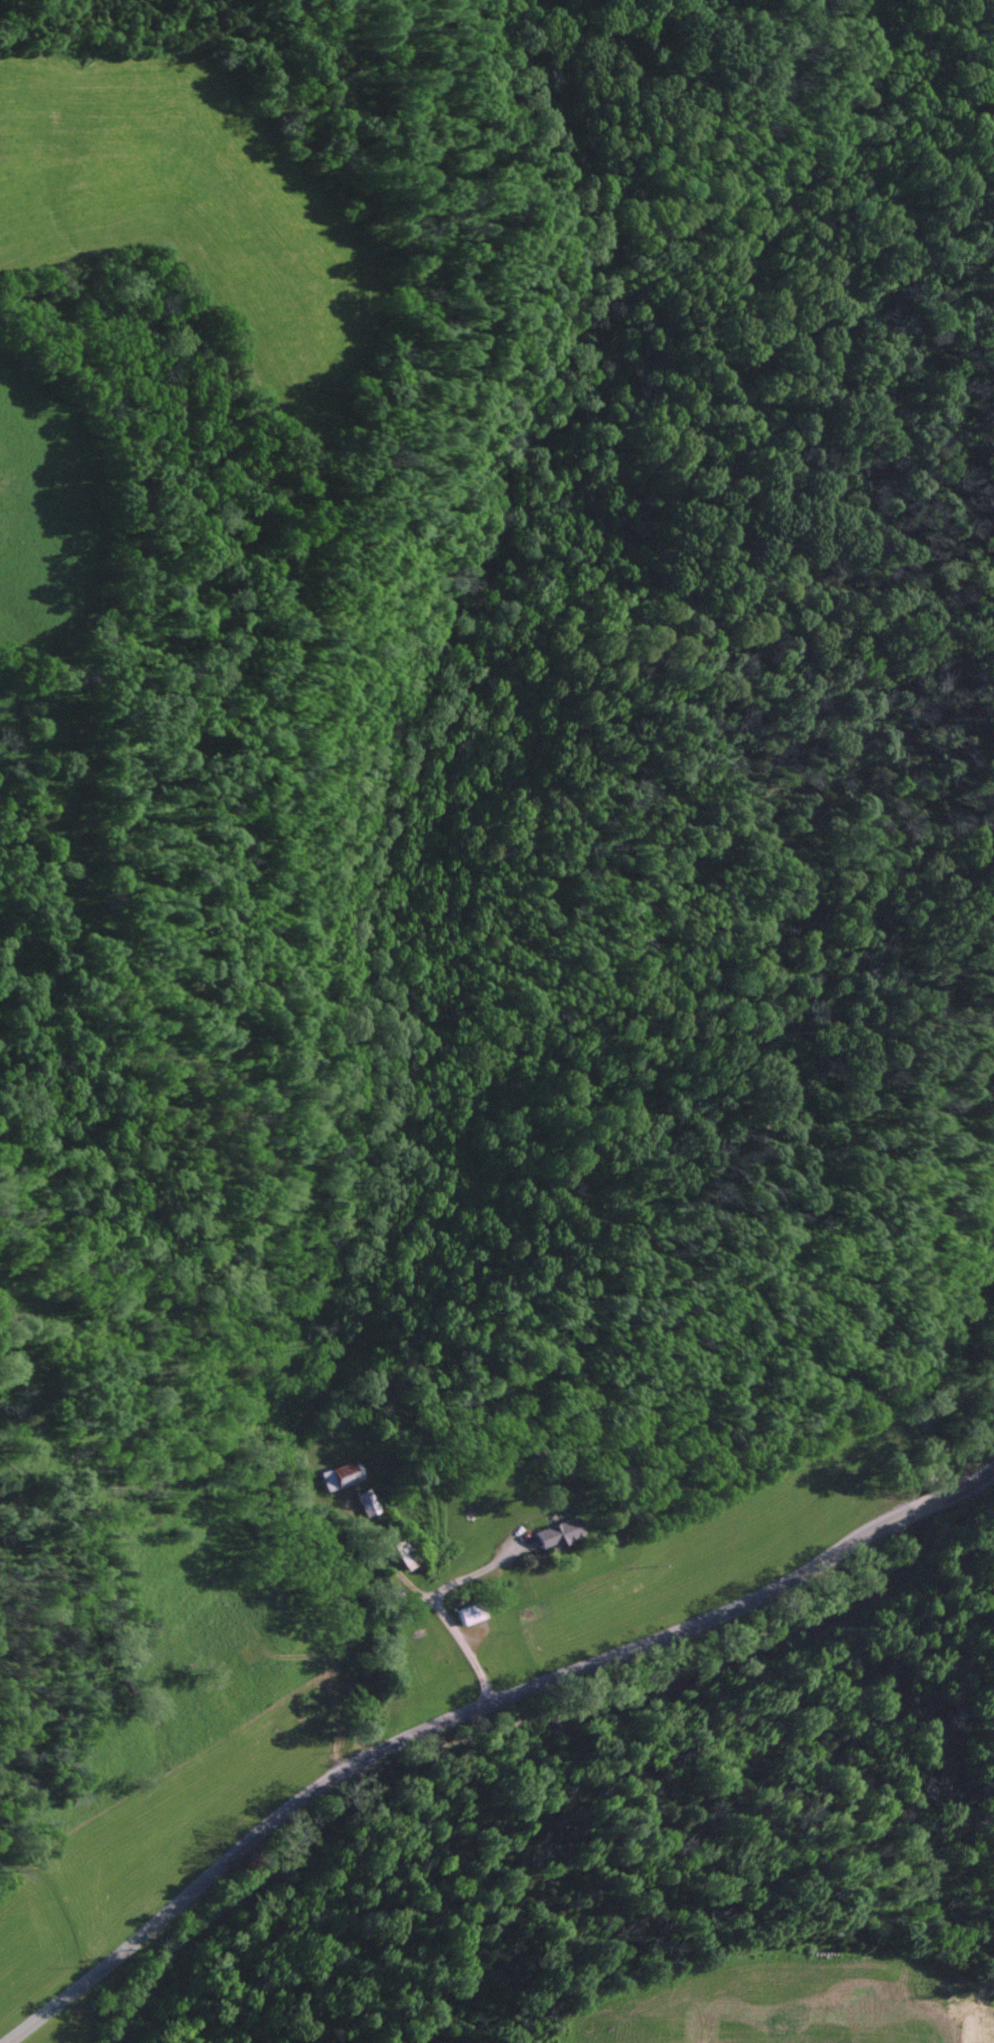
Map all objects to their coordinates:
crop: (186, 212)
crop: (47, 522)
building: (341, 1476)
building: (365, 1505)
building: (557, 1535)
building: (401, 1556)
road: (475, 1580)
road: (420, 1604)
building: (470, 1615)
road: (479, 1713)

